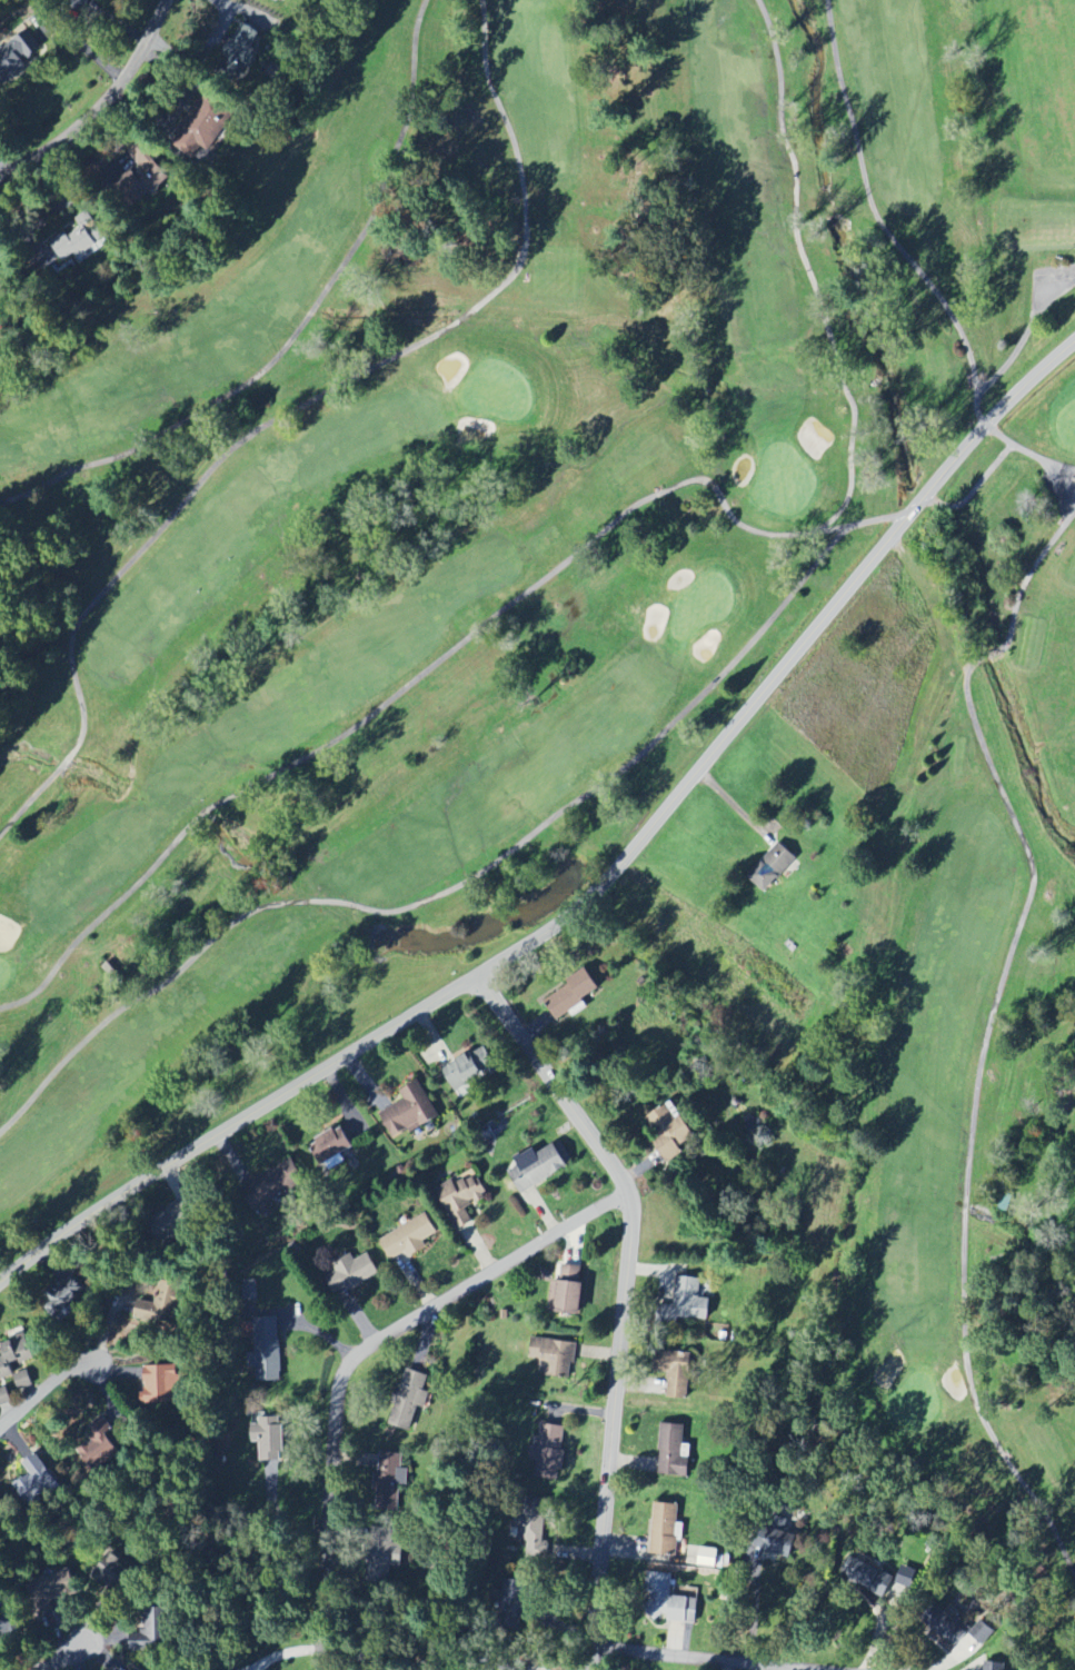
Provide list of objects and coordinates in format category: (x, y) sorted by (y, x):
building: (241, 46)
building: (18, 53)
road: (101, 106)
building: (216, 122)
building: (143, 179)
road: (882, 223)
building: (79, 241)
street lamp: (1061, 258)
road: (809, 274)
road: (301, 326)
road: (1026, 335)
road: (290, 410)
road: (1027, 450)
road: (926, 504)
park: (576, 607)
road: (397, 694)
road: (730, 799)
building: (772, 867)
road: (597, 879)
road: (450, 891)
building: (571, 995)
building: (470, 1070)
building: (407, 1111)
building: (669, 1133)
building: (331, 1145)
building: (537, 1167)
building: (273, 1186)
building: (461, 1197)
building: (409, 1237)
building: (350, 1273)
building: (567, 1292)
building: (63, 1299)
road: (619, 1299)
building: (689, 1300)
building: (163, 1305)
building: (266, 1349)
road: (359, 1353)
building: (555, 1358)
building: (13, 1368)
building: (677, 1375)
building: (161, 1384)
road: (50, 1386)
building: (409, 1400)
building: (268, 1438)
building: (549, 1445)
building: (98, 1447)
building: (673, 1452)
building: (36, 1481)
building: (389, 1482)
building: (1, 1513)
building: (665, 1531)
building: (780, 1538)
building: (534, 1539)
building: (387, 1551)
building: (115, 1573)
building: (867, 1575)
building: (906, 1577)
building: (664, 1600)
building: (948, 1627)
building: (145, 1631)
road: (61, 1658)
road: (699, 1659)
building: (994, 1667)

